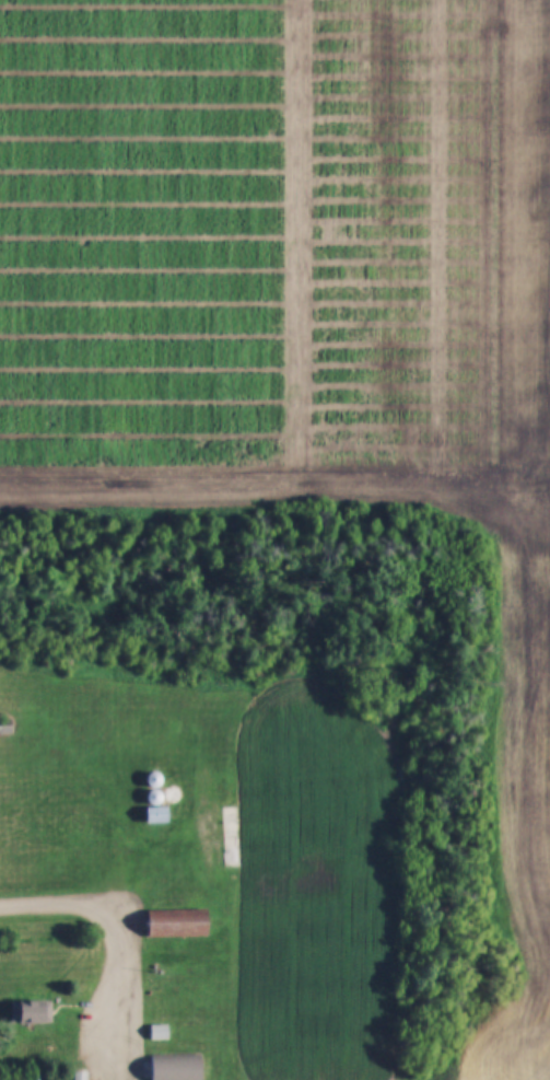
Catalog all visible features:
road: (125, 941)

